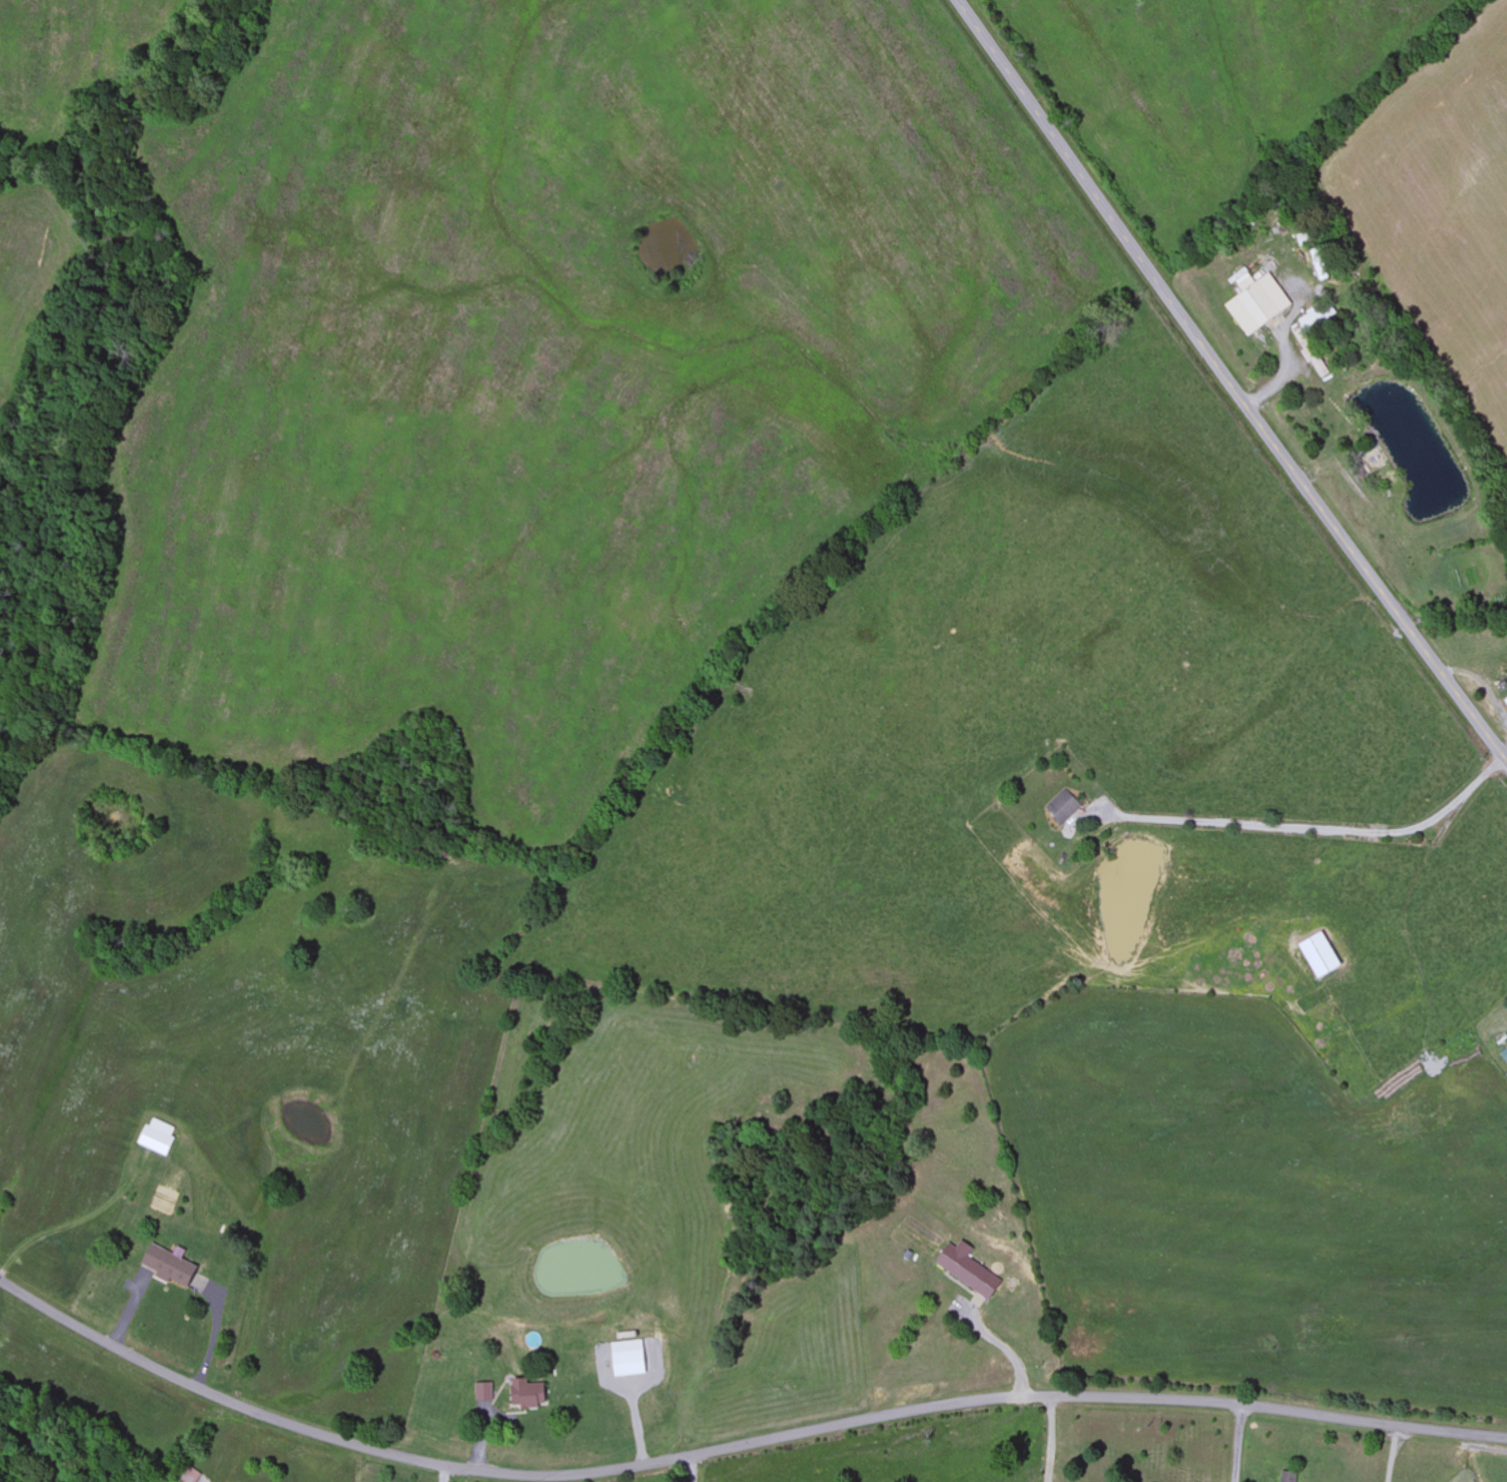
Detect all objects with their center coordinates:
building: (1250, 302)
building: (1306, 354)
road: (1229, 381)
building: (1065, 806)
building: (1313, 955)
building: (158, 1138)
building: (173, 1266)
building: (970, 1270)
building: (630, 1364)
building: (483, 1392)
building: (531, 1395)
road: (1242, 1443)
road: (735, 1447)
road: (690, 1469)
building: (192, 1476)
building: (1286, 1477)

